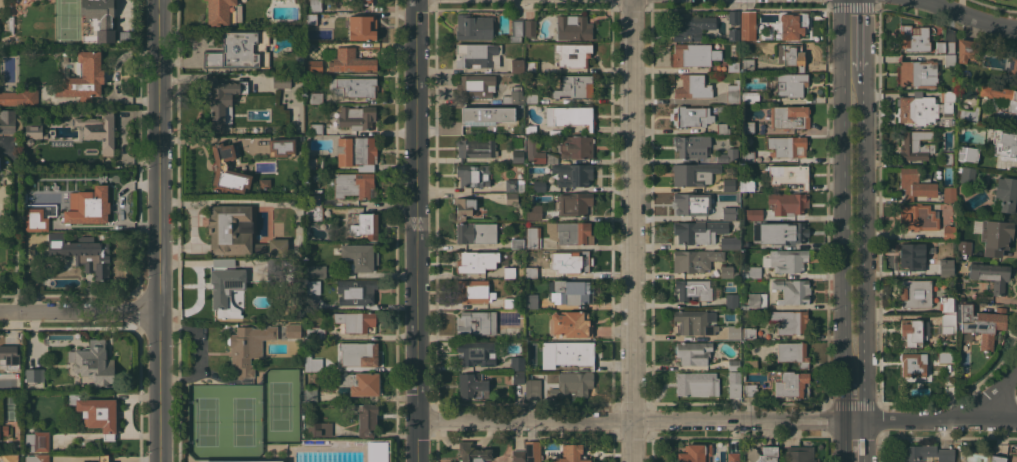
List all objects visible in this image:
building: (366, 2)
road: (937, 2)
building: (315, 5)
park: (1, 6)
road: (853, 7)
building: (223, 12)
road: (970, 16)
building: (733, 17)
building: (310, 19)
building: (97, 20)
building: (747, 25)
building: (792, 25)
building: (361, 27)
building: (474, 27)
building: (572, 27)
building: (691, 27)
building: (530, 28)
building: (516, 30)
building: (733, 34)
building: (124, 36)
building: (913, 38)
building: (946, 43)
building: (966, 49)
building: (240, 50)
building: (693, 54)
building: (477, 55)
building: (572, 55)
building: (792, 55)
building: (949, 59)
building: (351, 61)
building: (299, 62)
building: (1012, 64)
building: (747, 65)
building: (314, 66)
building: (517, 66)
building: (531, 66)
building: (732, 67)
building: (918, 73)
building: (83, 78)
building: (280, 82)
building: (790, 84)
building: (353, 86)
building: (476, 86)
building: (574, 87)
building: (692, 87)
building: (733, 92)
building: (513, 95)
building: (20, 97)
building: (316, 97)
building: (748, 97)
building: (530, 98)
building: (220, 99)
building: (947, 100)
building: (1012, 103)
building: (917, 109)
building: (968, 114)
building: (486, 115)
building: (570, 116)
building: (692, 116)
building: (356, 117)
building: (789, 117)
building: (9, 122)
building: (747, 127)
building: (316, 128)
building: (530, 128)
building: (721, 128)
building: (98, 129)
building: (32, 133)
building: (747, 140)
building: (689, 144)
building: (1005, 144)
building: (915, 145)
building: (787, 146)
building: (281, 147)
building: (576, 147)
building: (475, 148)
building: (356, 152)
building: (534, 152)
building: (967, 153)
road: (159, 155)
building: (723, 155)
building: (517, 156)
building: (748, 157)
building: (551, 158)
building: (947, 158)
building: (312, 162)
building: (227, 170)
building: (693, 174)
building: (789, 174)
building: (473, 175)
building: (574, 175)
building: (967, 175)
building: (516, 181)
building: (264, 182)
building: (915, 183)
building: (353, 185)
building: (538, 185)
building: (725, 185)
building: (747, 185)
building: (949, 194)
building: (1005, 195)
building: (511, 198)
building: (313, 200)
building: (788, 203)
building: (574, 204)
building: (689, 204)
building: (92, 205)
building: (463, 207)
building: (39, 212)
building: (532, 212)
building: (314, 213)
building: (725, 214)
building: (752, 214)
building: (918, 217)
building: (36, 220)
road: (15, 225)
building: (365, 225)
road: (416, 230)
road: (627, 231)
building: (698, 231)
road: (852, 231)
building: (570, 232)
building: (783, 232)
building: (947, 232)
building: (238, 233)
building: (476, 233)
building: (996, 236)
building: (532, 237)
building: (730, 242)
building: (517, 243)
building: (963, 248)
building: (82, 253)
building: (912, 256)
building: (360, 257)
building: (570, 260)
building: (692, 260)
building: (787, 260)
building: (471, 262)
building: (226, 263)
building: (313, 268)
building: (946, 270)
building: (727, 271)
building: (754, 271)
building: (509, 272)
building: (531, 272)
building: (744, 275)
building: (990, 275)
building: (229, 289)
building: (692, 289)
building: (520, 290)
building: (473, 291)
building: (792, 291)
building: (356, 292)
building: (570, 292)
building: (914, 293)
building: (311, 299)
building: (731, 300)
building: (756, 300)
building: (532, 301)
building: (509, 303)
building: (947, 304)
road: (80, 311)
building: (355, 321)
building: (789, 321)
building: (476, 322)
building: (694, 322)
building: (948, 323)
building: (982, 323)
building: (570, 324)
building: (291, 330)
building: (733, 332)
building: (911, 332)
building: (315, 333)
building: (749, 333)
building: (248, 347)
building: (791, 351)
building: (693, 352)
building: (358, 353)
building: (476, 353)
building: (10, 354)
building: (566, 355)
building: (945, 357)
building: (94, 363)
building: (312, 363)
building: (517, 363)
building: (733, 364)
building: (750, 364)
building: (913, 364)
building: (34, 375)
building: (518, 377)
building: (1, 381)
building: (359, 383)
building: (696, 383)
building: (572, 384)
building: (734, 384)
building: (791, 384)
building: (471, 385)
road: (161, 386)
building: (532, 389)
building: (749, 390)
building: (311, 394)
road: (991, 396)
building: (6, 401)
park: (278, 405)
building: (96, 413)
building: (365, 417)
road: (716, 420)
park: (243, 424)
park: (206, 425)
building: (318, 429)
building: (4, 430)
building: (37, 441)
building: (708, 448)
building: (375, 451)
building: (533, 451)
building: (472, 453)
building: (926, 453)
building: (571, 454)
building: (691, 454)
building: (760, 454)
building: (799, 454)
building: (518, 456)
building: (10, 458)
building: (37, 458)
building: (104, 458)
building: (733, 458)
building: (997, 458)
building: (239, 461)

